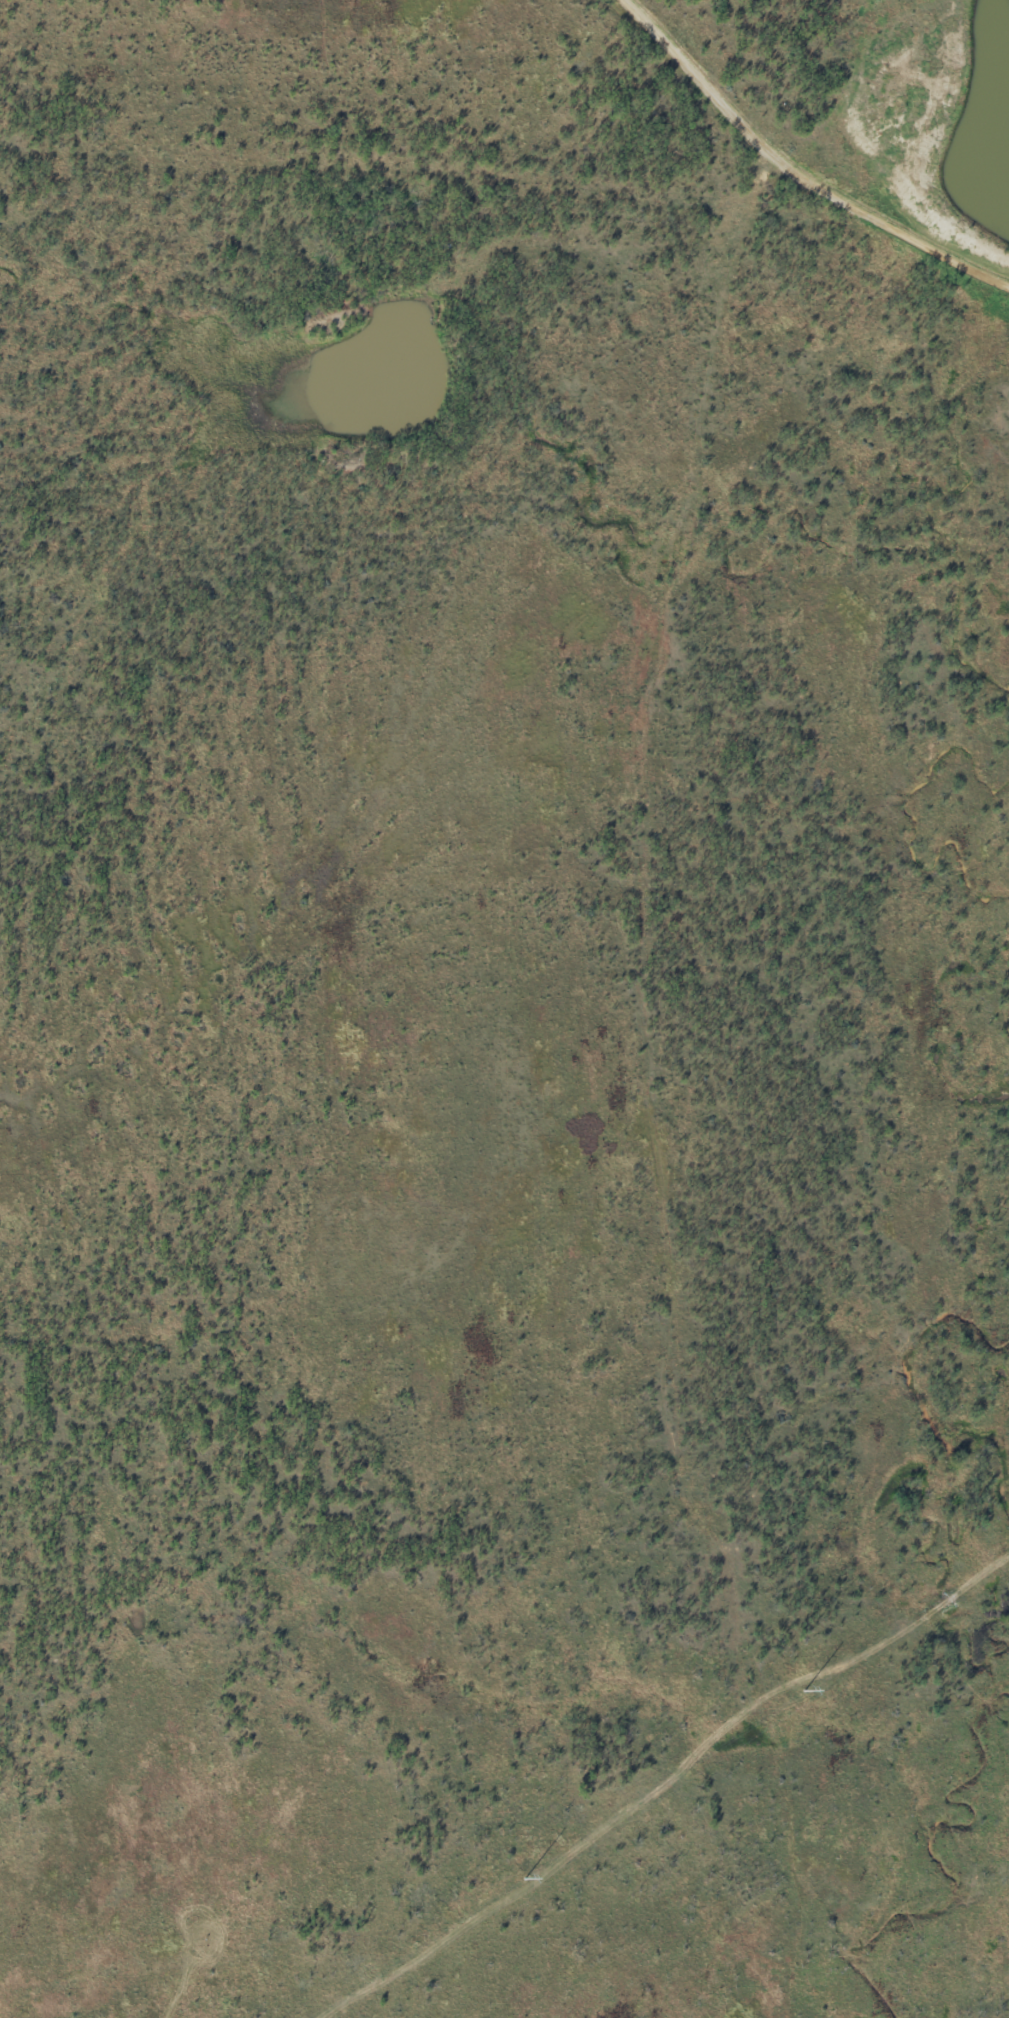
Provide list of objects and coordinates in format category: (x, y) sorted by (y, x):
road: (749, 82)
road: (748, 192)

